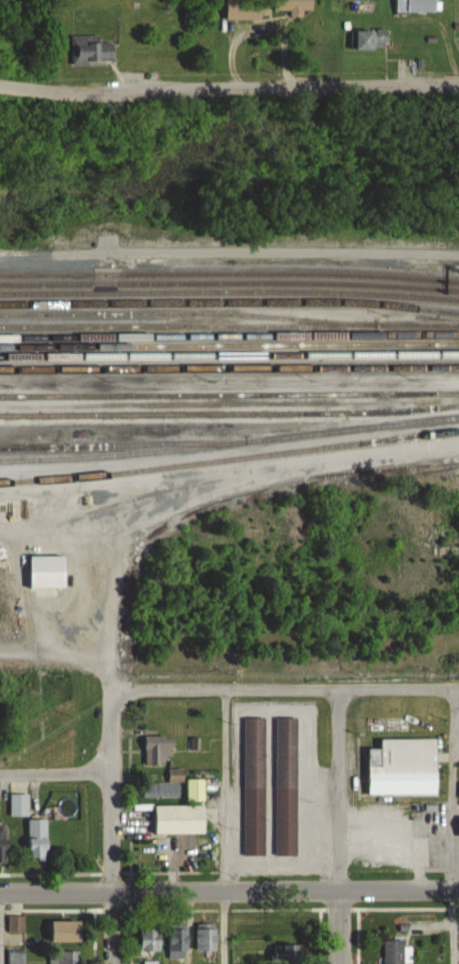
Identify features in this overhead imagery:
building: (294, 6)
building: (416, 6)
building: (243, 10)
building: (373, 40)
building: (91, 50)
road: (229, 87)
railway: (229, 274)
railway: (229, 282)
railway: (229, 293)
railway: (229, 302)
railway: (187, 313)
railway: (229, 326)
railway: (229, 337)
railway: (229, 346)
railway: (229, 356)
railway: (229, 369)
railway: (229, 396)
railway: (229, 412)
railway: (229, 443)
railway: (122, 444)
railway: (230, 462)
road: (282, 465)
road: (114, 548)
building: (47, 572)
road: (286, 690)
road: (285, 707)
road: (111, 731)
building: (157, 749)
building: (403, 767)
road: (54, 772)
building: (254, 786)
building: (286, 786)
building: (165, 787)
building: (195, 790)
road: (338, 790)
building: (19, 805)
building: (180, 819)
road: (453, 826)
building: (458, 826)
road: (222, 827)
road: (111, 832)
building: (38, 839)
building: (3, 840)
road: (396, 845)
road: (456, 846)
road: (280, 864)
road: (421, 867)
road: (229, 890)
building: (16, 923)
building: (288, 924)
road: (341, 927)
road: (113, 928)
building: (67, 930)
building: (208, 936)
building: (152, 938)
building: (179, 940)
building: (394, 950)
building: (292, 954)
building: (17, 956)
building: (69, 957)

